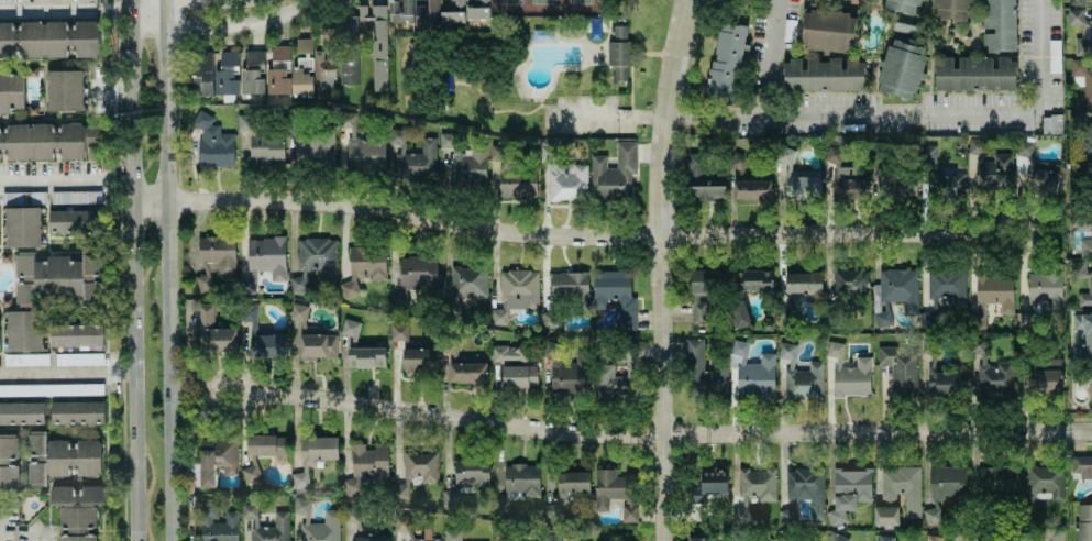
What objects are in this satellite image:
building: (869, 0)
road: (64, 1)
road: (189, 3)
park: (510, 3)
park: (543, 3)
park: (580, 3)
building: (901, 5)
building: (949, 9)
building: (453, 12)
building: (476, 12)
building: (400, 13)
building: (426, 13)
building: (999, 25)
road: (228, 29)
building: (350, 29)
building: (827, 31)
building: (1081, 31)
building: (48, 40)
building: (376, 43)
building: (618, 53)
road: (773, 57)
building: (349, 66)
building: (725, 66)
building: (901, 69)
building: (277, 70)
building: (311, 70)
building: (202, 74)
building: (252, 74)
building: (974, 74)
building: (225, 75)
building: (824, 75)
building: (1082, 79)
road: (113, 87)
building: (65, 90)
building: (11, 91)
road: (908, 113)
road: (609, 117)
building: (1051, 124)
building: (1088, 139)
building: (213, 143)
building: (315, 147)
building: (363, 147)
building: (927, 153)
building: (785, 155)
building: (1023, 155)
building: (413, 157)
building: (989, 165)
building: (468, 167)
building: (613, 174)
building: (564, 177)
road: (71, 178)
building: (845, 178)
building: (703, 180)
building: (1043, 180)
building: (517, 184)
building: (802, 185)
building: (948, 185)
building: (895, 186)
building: (752, 189)
building: (13, 198)
building: (74, 221)
building: (23, 227)
road: (571, 235)
building: (1085, 245)
building: (214, 260)
building: (315, 260)
building: (264, 261)
building: (364, 267)
road: (132, 269)
road: (662, 269)
road: (164, 270)
building: (417, 272)
building: (59, 278)
building: (752, 280)
building: (847, 280)
building: (803, 284)
building: (946, 285)
building: (1089, 285)
building: (465, 286)
building: (571, 287)
building: (900, 288)
building: (1046, 289)
building: (995, 291)
building: (702, 292)
building: (515, 294)
building: (615, 297)
building: (738, 313)
building: (926, 313)
building: (1023, 318)
building: (978, 320)
building: (350, 328)
building: (23, 331)
building: (213, 332)
building: (398, 332)
building: (75, 334)
building: (1082, 335)
building: (267, 345)
building: (317, 346)
building: (978, 346)
building: (786, 351)
building: (365, 357)
building: (78, 358)
building: (25, 360)
building: (419, 361)
building: (516, 366)
building: (900, 369)
road: (66, 371)
building: (467, 373)
building: (703, 373)
building: (750, 373)
building: (848, 373)
building: (992, 376)
building: (566, 378)
building: (616, 379)
building: (803, 379)
building: (926, 380)
building: (1047, 380)
building: (1090, 383)
building: (946, 384)
building: (51, 389)
road: (207, 396)
building: (77, 412)
building: (22, 413)
road: (668, 435)
building: (267, 448)
building: (313, 456)
building: (60, 459)
building: (216, 460)
building: (8, 462)
building: (369, 462)
building: (420, 465)
building: (1082, 466)
building: (251, 474)
building: (191, 475)
building: (471, 475)
building: (521, 481)
building: (995, 481)
building: (947, 483)
building: (571, 484)
building: (1044, 484)
building: (708, 485)
building: (754, 487)
building: (901, 487)
building: (806, 489)
building: (399, 492)
building: (849, 492)
building: (614, 493)
building: (91, 495)
building: (301, 506)
building: (931, 515)
building: (885, 516)
building: (74, 517)
building: (1082, 522)
building: (217, 523)
building: (280, 523)
building: (360, 525)
building: (321, 528)
building: (452, 536)
building: (551, 538)
building: (836, 538)
building: (883, 538)
building: (931, 538)
building: (695, 539)
building: (786, 539)
building: (421, 540)

